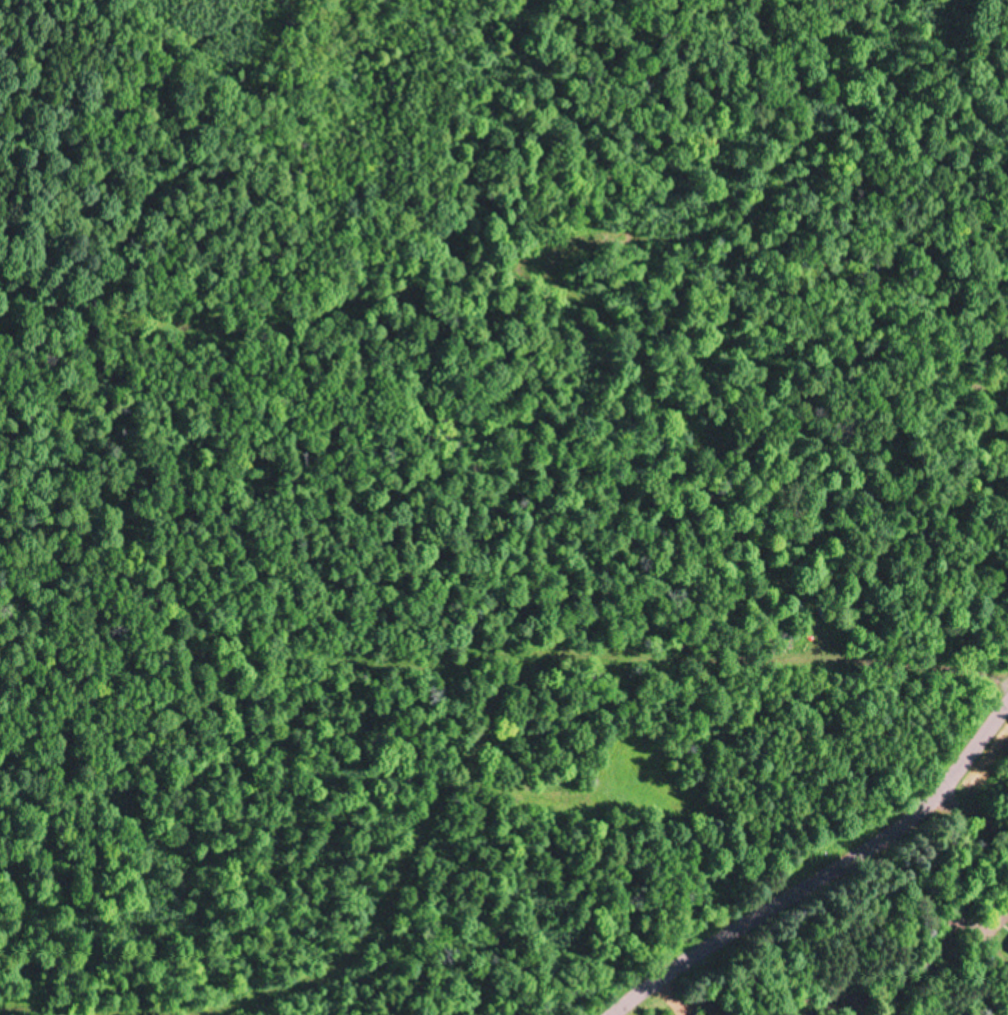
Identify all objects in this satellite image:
road: (827, 880)
building: (710, 1012)

